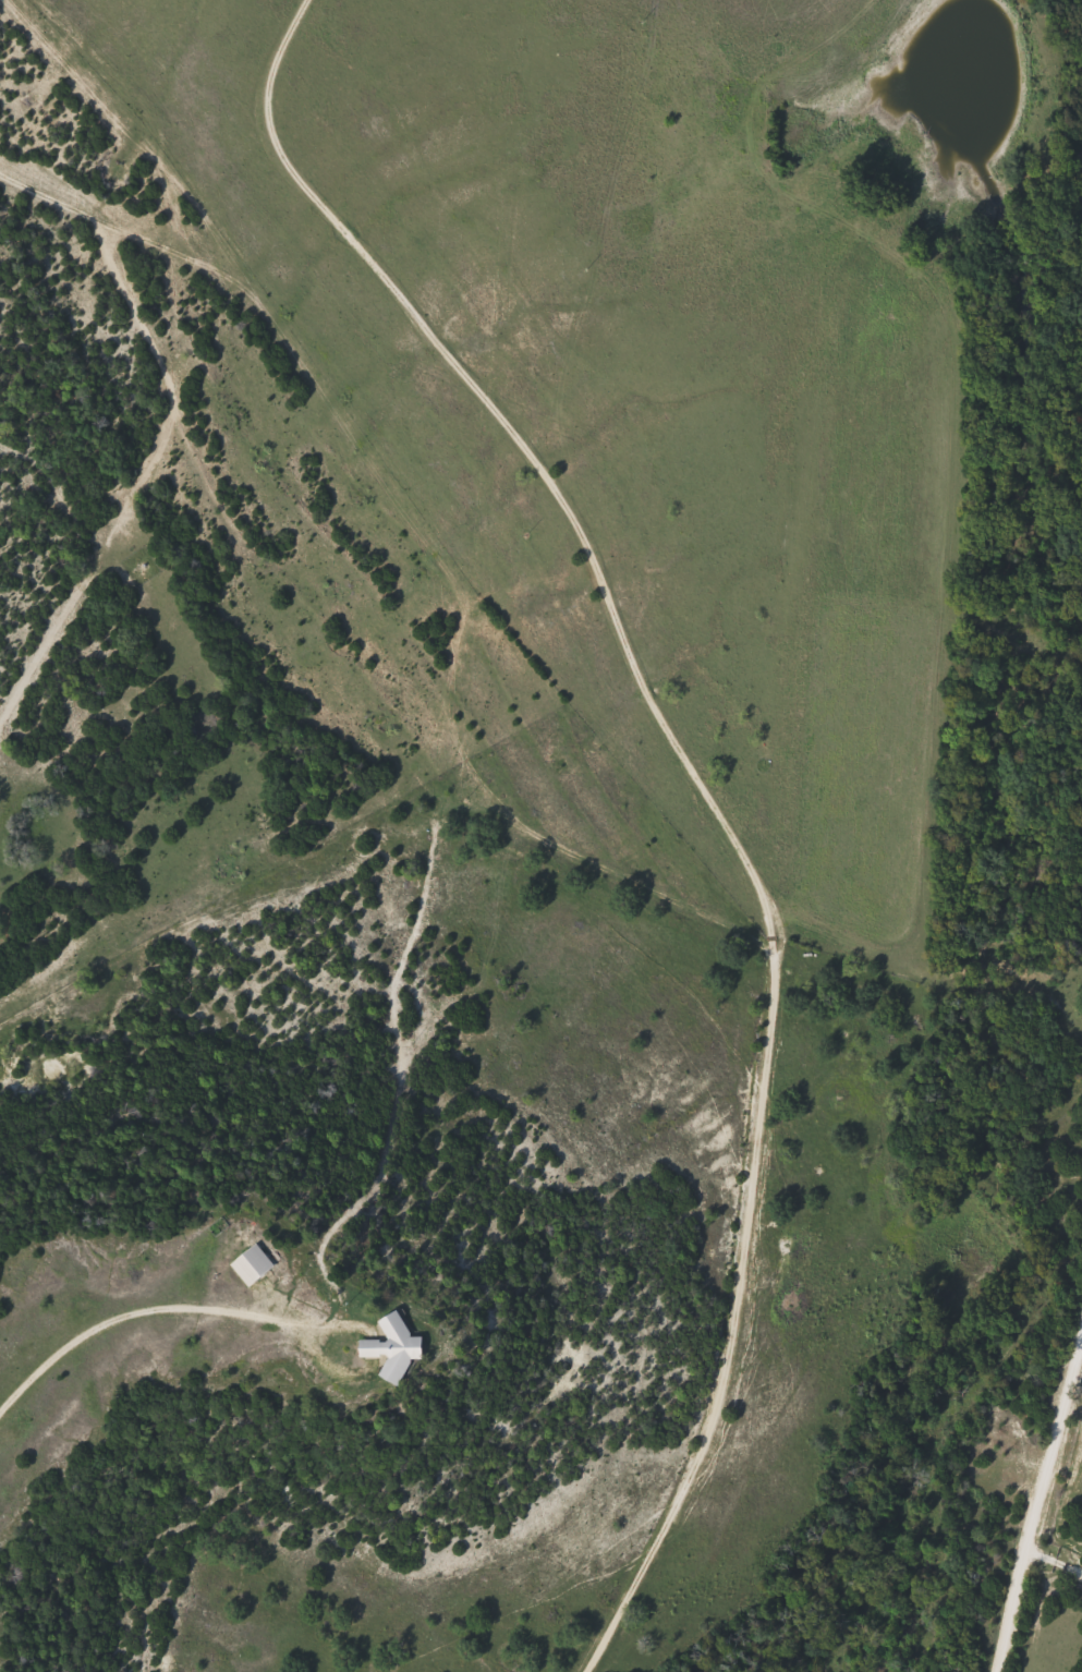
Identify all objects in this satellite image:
road: (709, 789)
building: (253, 1264)
road: (135, 1310)
building: (393, 1347)
road: (1041, 1514)
road: (1057, 1563)

